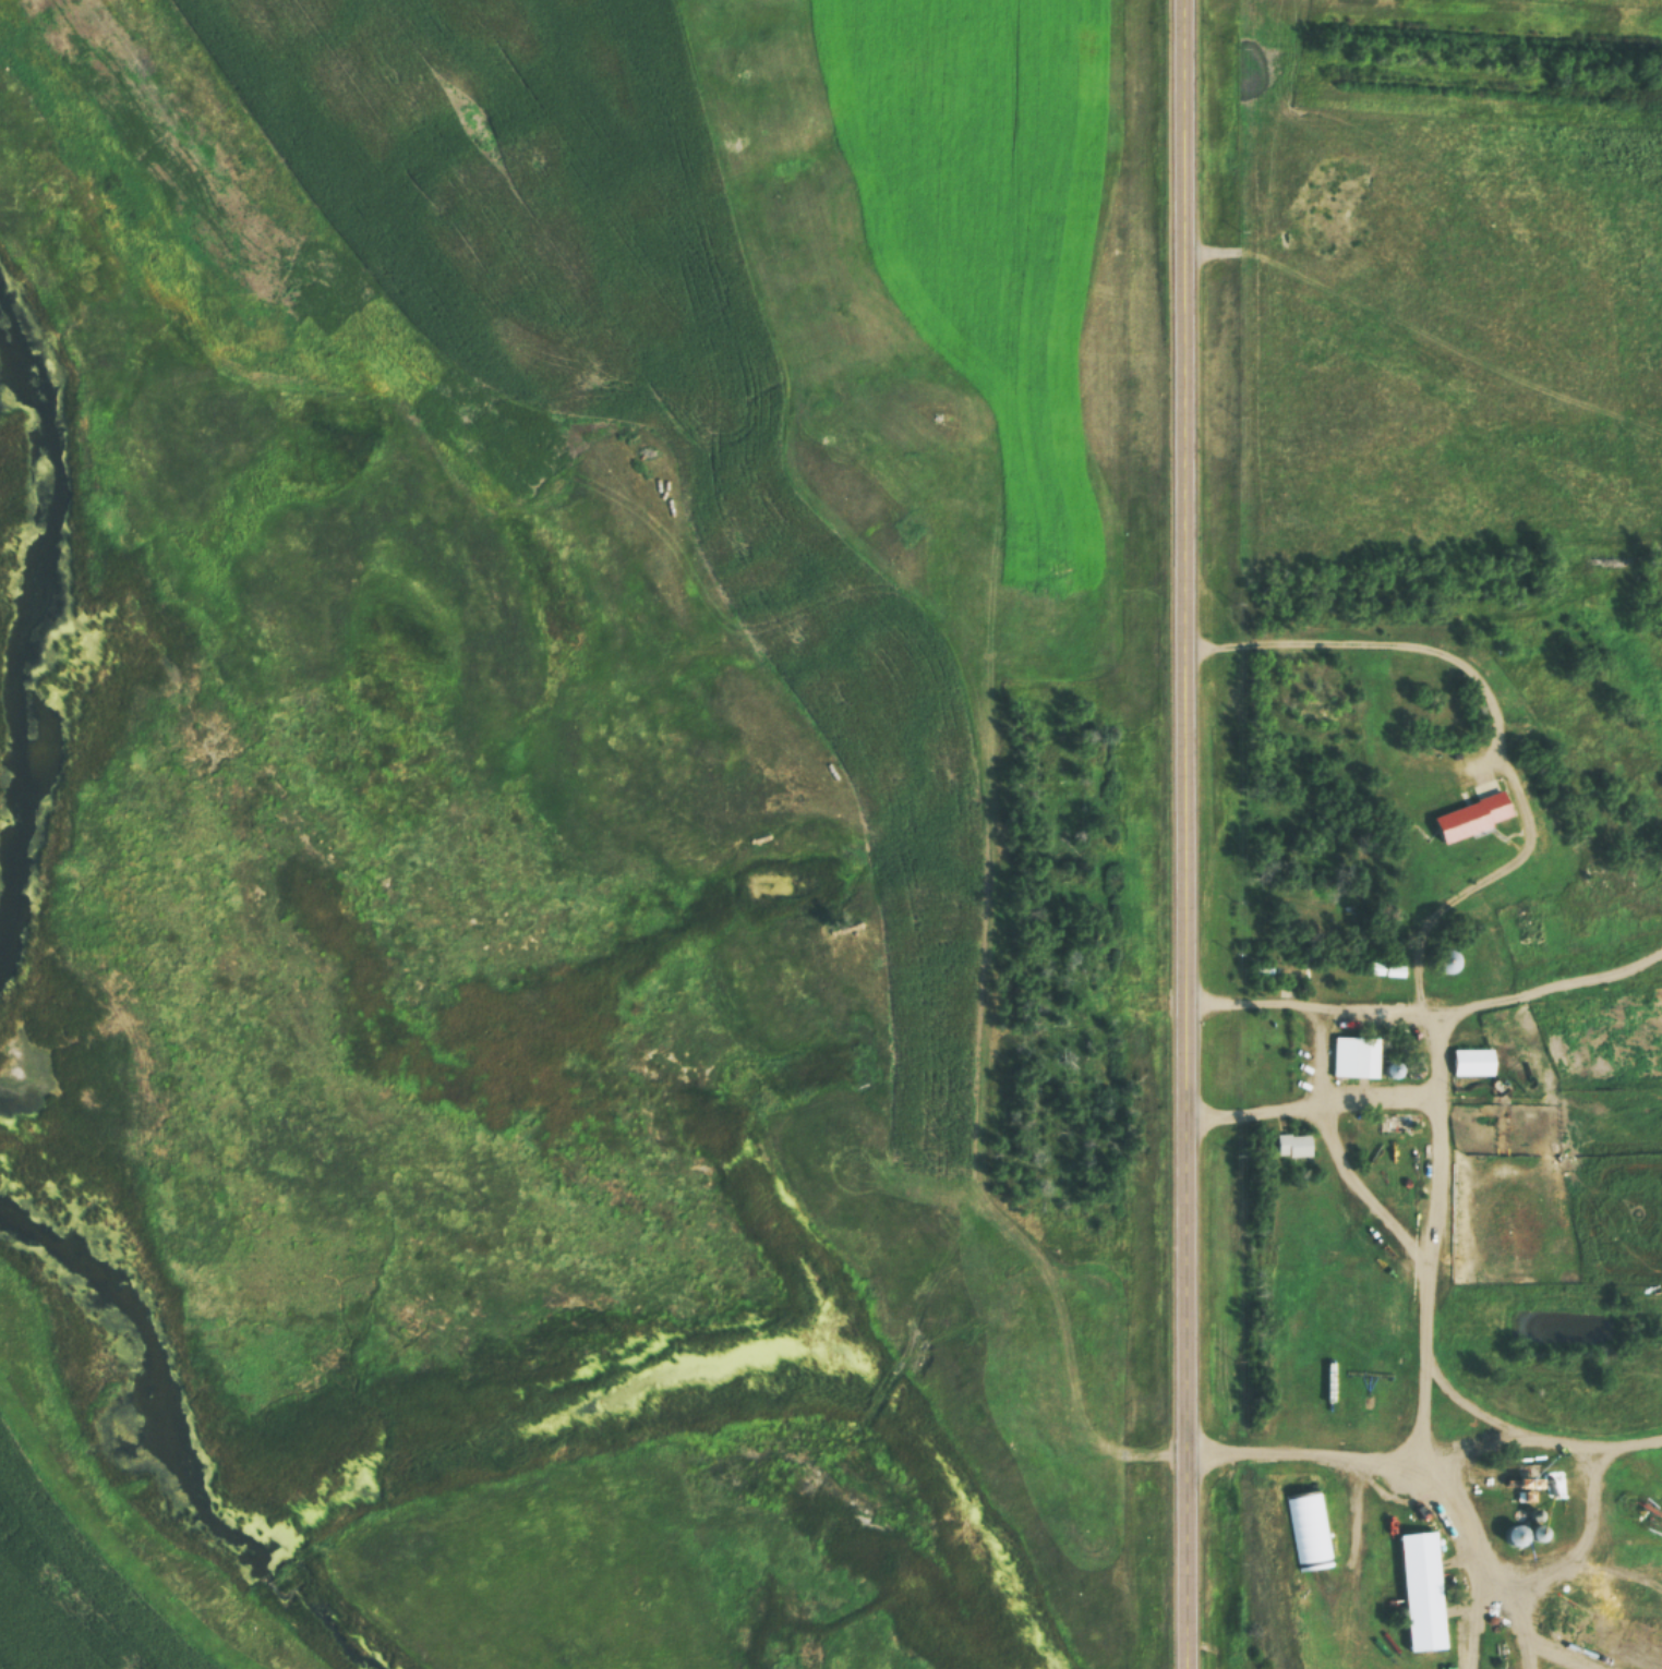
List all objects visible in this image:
road: (1182, 834)
building: (1448, 963)
building: (1386, 969)
building: (1364, 1056)
building: (1473, 1061)
road: (1311, 1102)
building: (1293, 1144)
road: (1338, 1151)
road: (1433, 1224)
road: (1589, 1539)
building: (1422, 1591)

